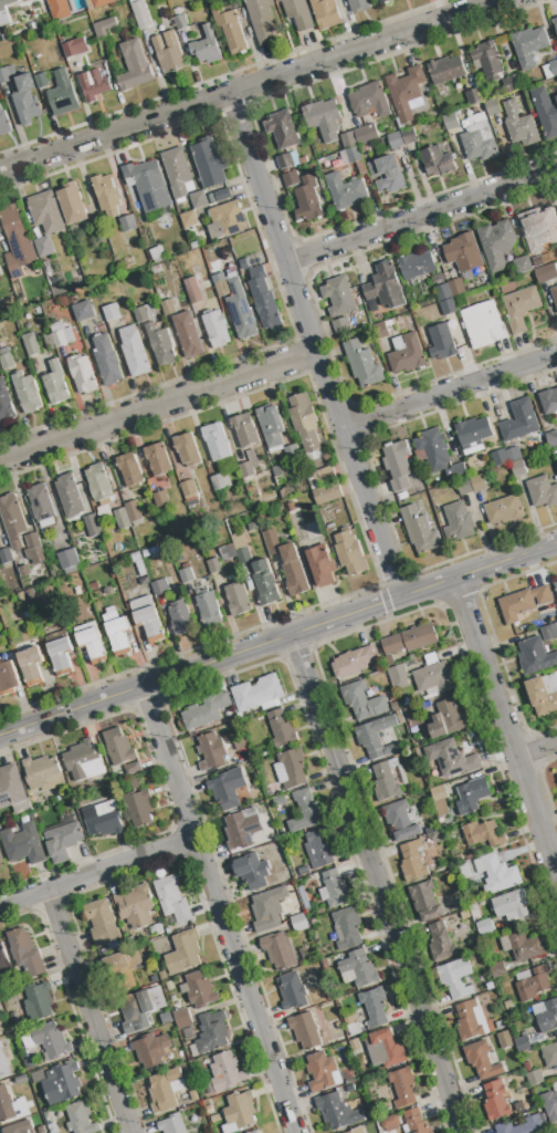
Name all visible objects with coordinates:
building: (382, 1)
building: (101, 2)
building: (88, 4)
building: (358, 6)
building: (59, 9)
building: (4, 11)
building: (139, 13)
building: (297, 13)
building: (325, 13)
building: (179, 20)
building: (261, 20)
building: (555, 24)
building: (30, 27)
building: (104, 28)
building: (230, 30)
building: (4, 37)
building: (529, 45)
building: (206, 48)
building: (74, 49)
building: (168, 53)
building: (487, 60)
building: (134, 66)
building: (550, 70)
building: (445, 71)
building: (6, 75)
building: (41, 80)
building: (513, 83)
building: (93, 85)
road: (248, 85)
building: (404, 92)
building: (62, 95)
building: (473, 97)
building: (556, 97)
building: (25, 101)
building: (369, 101)
building: (492, 107)
building: (546, 112)
building: (320, 114)
building: (450, 122)
building: (3, 123)
building: (519, 125)
building: (282, 131)
building: (366, 134)
building: (409, 136)
building: (479, 139)
building: (395, 141)
building: (343, 143)
building: (353, 155)
building: (285, 162)
building: (437, 162)
building: (209, 163)
building: (178, 173)
building: (388, 175)
building: (291, 179)
building: (148, 186)
building: (345, 191)
building: (222, 195)
building: (106, 196)
building: (198, 199)
building: (307, 200)
building: (71, 204)
building: (45, 212)
road: (420, 215)
building: (188, 220)
building: (227, 220)
building: (128, 224)
building: (536, 227)
building: (98, 228)
building: (17, 242)
building: (496, 243)
building: (556, 246)
building: (43, 247)
building: (155, 252)
building: (463, 253)
building: (243, 264)
building: (523, 264)
building: (416, 266)
building: (0, 272)
building: (546, 272)
building: (0, 274)
building: (385, 287)
building: (221, 288)
building: (456, 288)
building: (192, 291)
building: (443, 292)
building: (555, 294)
building: (338, 297)
building: (264, 300)
building: (63, 302)
building: (168, 308)
building: (448, 308)
building: (521, 308)
building: (83, 311)
building: (241, 311)
building: (111, 312)
building: (140, 315)
building: (340, 325)
building: (483, 325)
building: (216, 330)
building: (380, 331)
building: (188, 334)
building: (61, 335)
building: (441, 343)
building: (30, 344)
building: (161, 345)
road: (311, 345)
building: (134, 352)
building: (407, 355)
building: (6, 358)
building: (106, 361)
building: (362, 364)
building: (82, 374)
building: (55, 384)
building: (25, 393)
road: (446, 393)
building: (548, 402)
building: (6, 404)
road: (156, 407)
building: (304, 422)
building: (519, 422)
building: (271, 426)
building: (244, 430)
building: (472, 435)
building: (551, 439)
building: (217, 443)
building: (433, 449)
building: (187, 450)
building: (292, 453)
building: (513, 455)
building: (500, 458)
building: (157, 459)
building: (397, 466)
building: (129, 469)
building: (246, 469)
building: (517, 469)
building: (456, 472)
building: (327, 475)
building: (218, 482)
building: (477, 484)
building: (98, 485)
building: (463, 487)
building: (189, 488)
building: (287, 491)
building: (542, 492)
building: (327, 493)
building: (69, 497)
building: (160, 499)
building: (41, 506)
building: (504, 510)
building: (133, 511)
building: (149, 513)
building: (122, 519)
building: (12, 521)
building: (459, 522)
building: (91, 526)
building: (253, 526)
building: (419, 530)
building: (271, 542)
building: (34, 549)
building: (241, 549)
building: (228, 553)
building: (349, 553)
building: (6, 557)
building: (135, 558)
building: (67, 560)
building: (320, 565)
building: (214, 566)
building: (24, 571)
building: (293, 571)
building: (186, 576)
building: (265, 583)
building: (556, 586)
building: (158, 589)
building: (30, 594)
building: (21, 597)
building: (238, 600)
building: (523, 603)
building: (209, 609)
building: (25, 615)
building: (181, 619)
building: (149, 624)
building: (117, 632)
building: (549, 632)
road: (278, 638)
building: (410, 640)
building: (92, 645)
building: (60, 656)
building: (535, 656)
building: (389, 661)
building: (353, 662)
building: (30, 666)
building: (399, 677)
building: (8, 678)
building: (433, 678)
building: (256, 694)
building: (544, 694)
building: (362, 701)
building: (395, 707)
building: (207, 710)
building: (399, 715)
building: (412, 716)
building: (446, 719)
road: (505, 728)
building: (281, 729)
building: (376, 738)
building: (118, 748)
building: (210, 752)
road: (536, 752)
building: (451, 759)
building: (83, 761)
building: (133, 768)
building: (293, 768)
building: (40, 771)
building: (556, 776)
building: (388, 780)
building: (227, 789)
building: (12, 790)
building: (439, 793)
building: (472, 796)
building: (278, 801)
building: (139, 808)
building: (441, 809)
building: (306, 811)
building: (103, 820)
building: (400, 821)
building: (241, 831)
building: (483, 834)
building: (435, 836)
building: (62, 839)
building: (23, 844)
building: (320, 848)
building: (1, 861)
building: (412, 862)
road: (96, 869)
building: (252, 871)
building: (303, 871)
building: (463, 871)
building: (497, 873)
road: (372, 885)
building: (334, 890)
building: (172, 898)
building: (424, 902)
building: (460, 904)
building: (511, 905)
building: (135, 906)
road: (218, 908)
building: (267, 909)
building: (474, 912)
building: (465, 915)
building: (102, 923)
building: (298, 923)
building: (347, 928)
building: (484, 928)
building: (156, 929)
building: (441, 943)
building: (525, 946)
building: (278, 950)
building: (25, 953)
building: (183, 953)
building: (3, 959)
building: (123, 968)
building: (359, 968)
building: (497, 970)
building: (162, 975)
building: (455, 978)
building: (1, 983)
building: (532, 983)
building: (169, 986)
building: (199, 990)
building: (292, 991)
building: (39, 1000)
building: (508, 1005)
building: (374, 1007)
road: (87, 1009)
building: (140, 1009)
building: (546, 1015)
building: (182, 1019)
building: (469, 1020)
building: (351, 1026)
building: (500, 1026)
building: (1, 1029)
building: (304, 1030)
building: (212, 1032)
building: (504, 1040)
building: (48, 1041)
building: (354, 1044)
building: (523, 1044)
building: (386, 1050)
building: (151, 1051)
building: (549, 1056)
building: (482, 1060)
building: (4, 1061)
building: (29, 1063)
building: (527, 1068)
building: (224, 1072)
building: (322, 1072)
building: (534, 1078)
building: (61, 1084)
building: (402, 1087)
building: (165, 1091)
building: (495, 1101)
building: (550, 1104)
building: (6, 1105)
building: (240, 1111)
building: (337, 1112)
building: (80, 1120)
building: (51, 1121)
building: (416, 1122)
building: (390, 1123)
building: (172, 1124)
building: (522, 1126)
building: (18, 1127)
building: (358, 1131)
building: (255, 1132)

